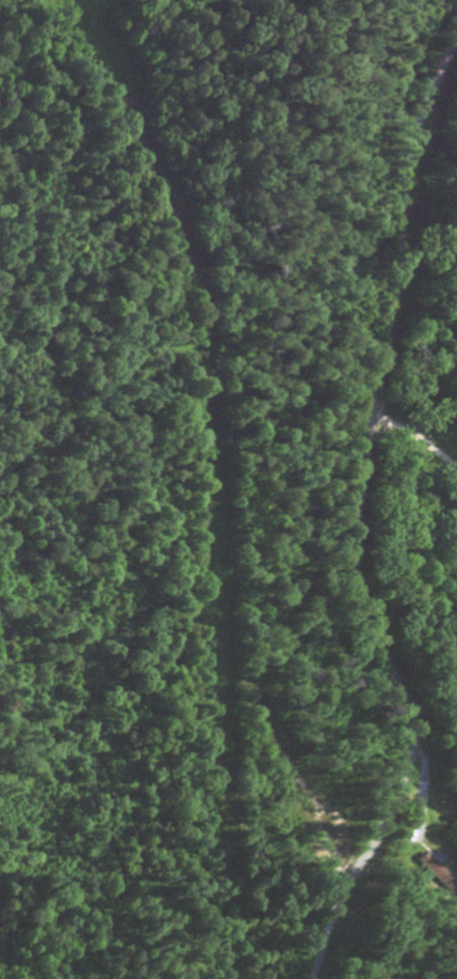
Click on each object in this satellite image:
road: (418, 442)
road: (360, 519)
building: (435, 874)

